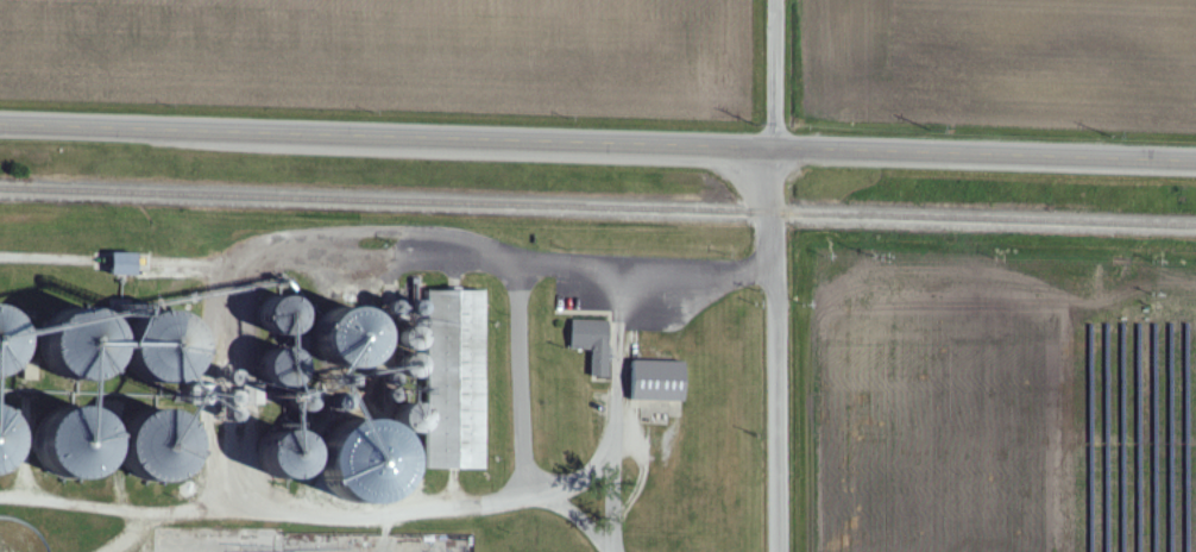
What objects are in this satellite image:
crop: (389, 54)
road: (597, 149)
railway: (598, 207)
road: (776, 275)
road: (521, 303)
building: (594, 343)
building: (660, 381)
solar farm: (1132, 410)

